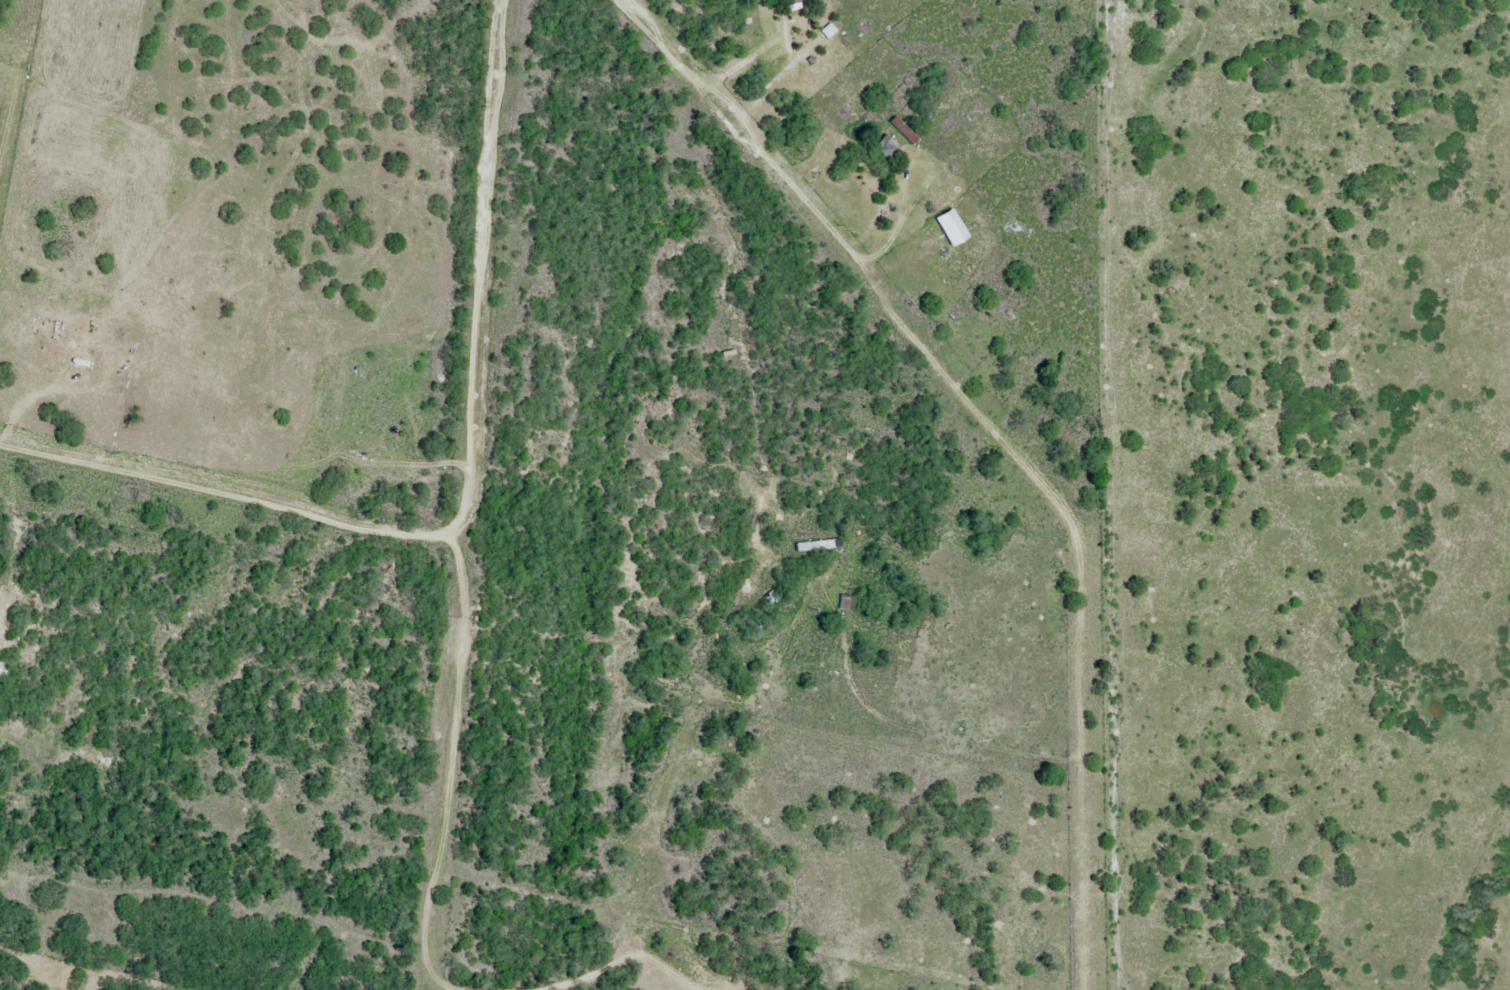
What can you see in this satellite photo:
building: (790, 5)
road: (787, 52)
road: (729, 131)
building: (904, 131)
building: (885, 148)
road: (890, 218)
building: (954, 237)
road: (479, 271)
road: (226, 494)
building: (818, 546)
building: (847, 604)

